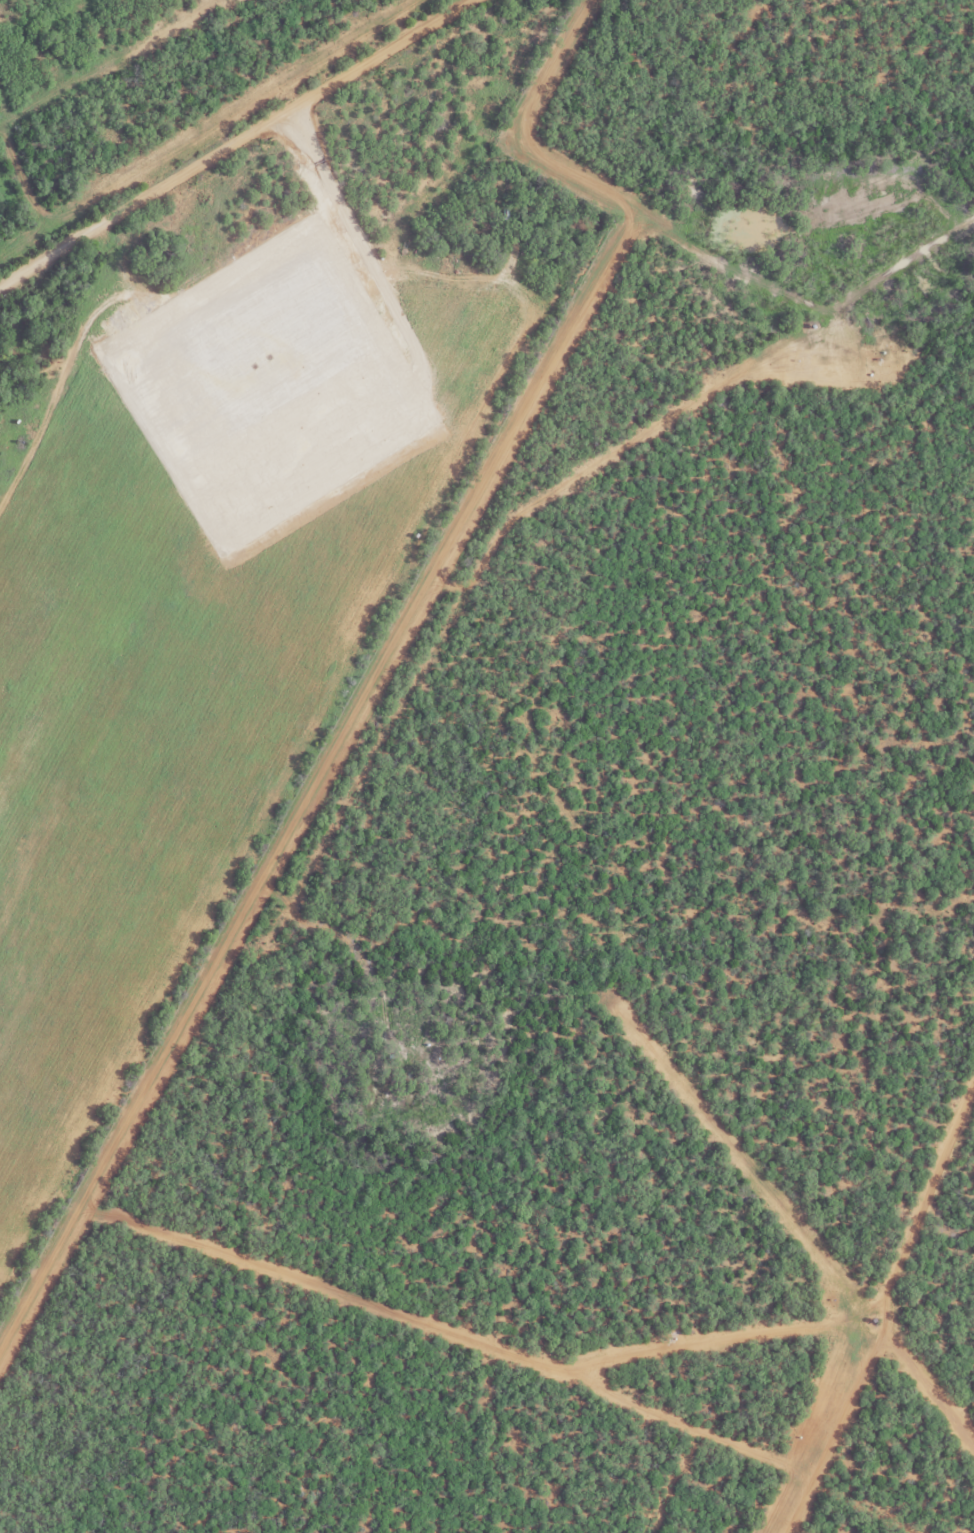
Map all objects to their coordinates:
road: (237, 142)

